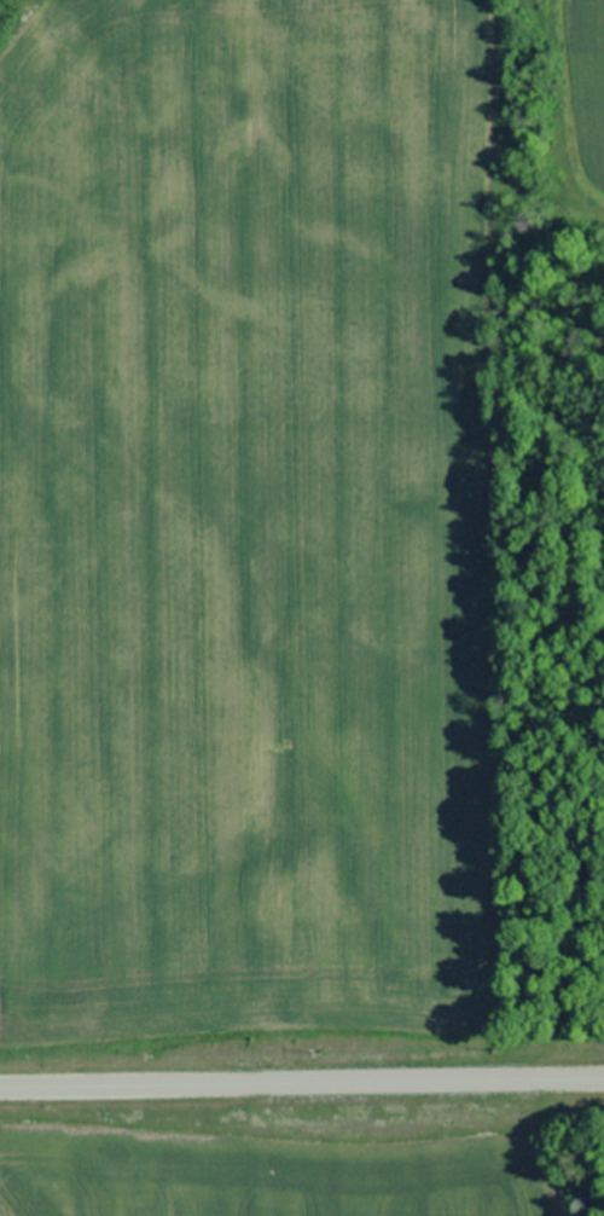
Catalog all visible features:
road: (302, 1082)

